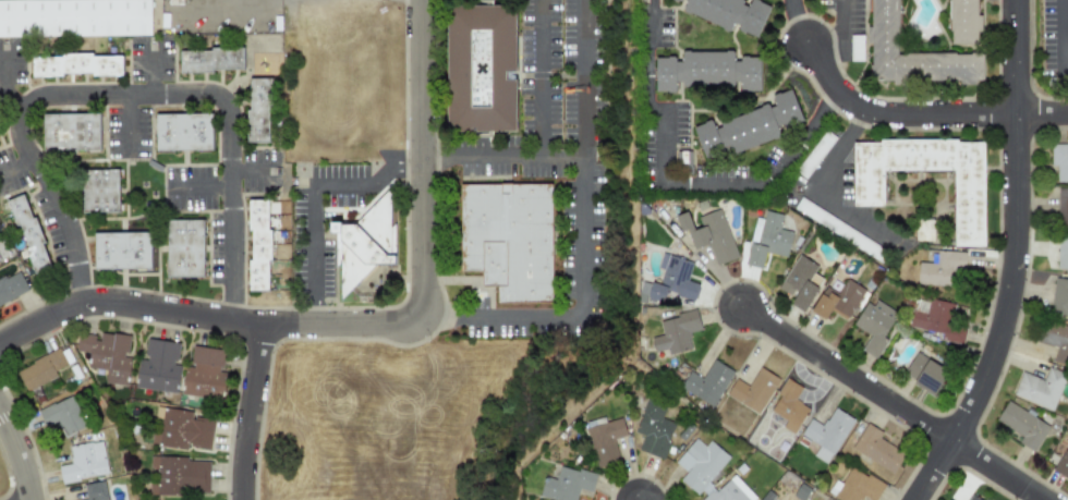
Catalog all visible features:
road: (282, 0)
road: (228, 2)
building: (738, 12)
building: (74, 17)
road: (798, 21)
building: (969, 23)
road: (835, 28)
road: (1066, 36)
building: (917, 56)
building: (214, 61)
road: (647, 62)
building: (78, 66)
building: (486, 71)
road: (1067, 73)
building: (711, 74)
road: (148, 75)
road: (536, 77)
road: (583, 77)
road: (2, 85)
road: (850, 96)
road: (126, 99)
building: (262, 111)
road: (967, 113)
road: (1042, 114)
road: (126, 126)
building: (752, 127)
building: (72, 132)
building: (186, 133)
building: (1059, 160)
building: (682, 164)
road: (15, 167)
road: (250, 170)
road: (739, 186)
road: (199, 187)
building: (873, 190)
building: (104, 192)
road: (822, 194)
road: (311, 196)
building: (1061, 206)
building: (32, 234)
building: (709, 235)
road: (581, 237)
building: (766, 239)
building: (510, 241)
building: (262, 247)
building: (187, 251)
building: (1061, 251)
building: (367, 252)
building: (125, 253)
road: (1017, 260)
building: (940, 269)
road: (628, 275)
building: (671, 279)
building: (798, 283)
building: (11, 286)
building: (1059, 297)
building: (837, 301)
building: (934, 318)
road: (366, 326)
building: (873, 326)
building: (675, 332)
road: (605, 339)
building: (1055, 339)
building: (106, 354)
building: (158, 366)
building: (40, 369)
building: (923, 373)
building: (204, 374)
building: (706, 382)
building: (1040, 388)
building: (752, 390)
road: (894, 404)
building: (788, 406)
road: (245, 412)
building: (62, 415)
building: (1022, 425)
building: (180, 429)
building: (653, 429)
building: (826, 434)
building: (604, 441)
building: (876, 448)
road: (16, 459)
building: (84, 461)
building: (1061, 464)
building: (707, 472)
building: (180, 476)
building: (566, 484)
building: (854, 487)
building: (94, 491)
road: (642, 498)
building: (972, 498)
building: (763, 499)

